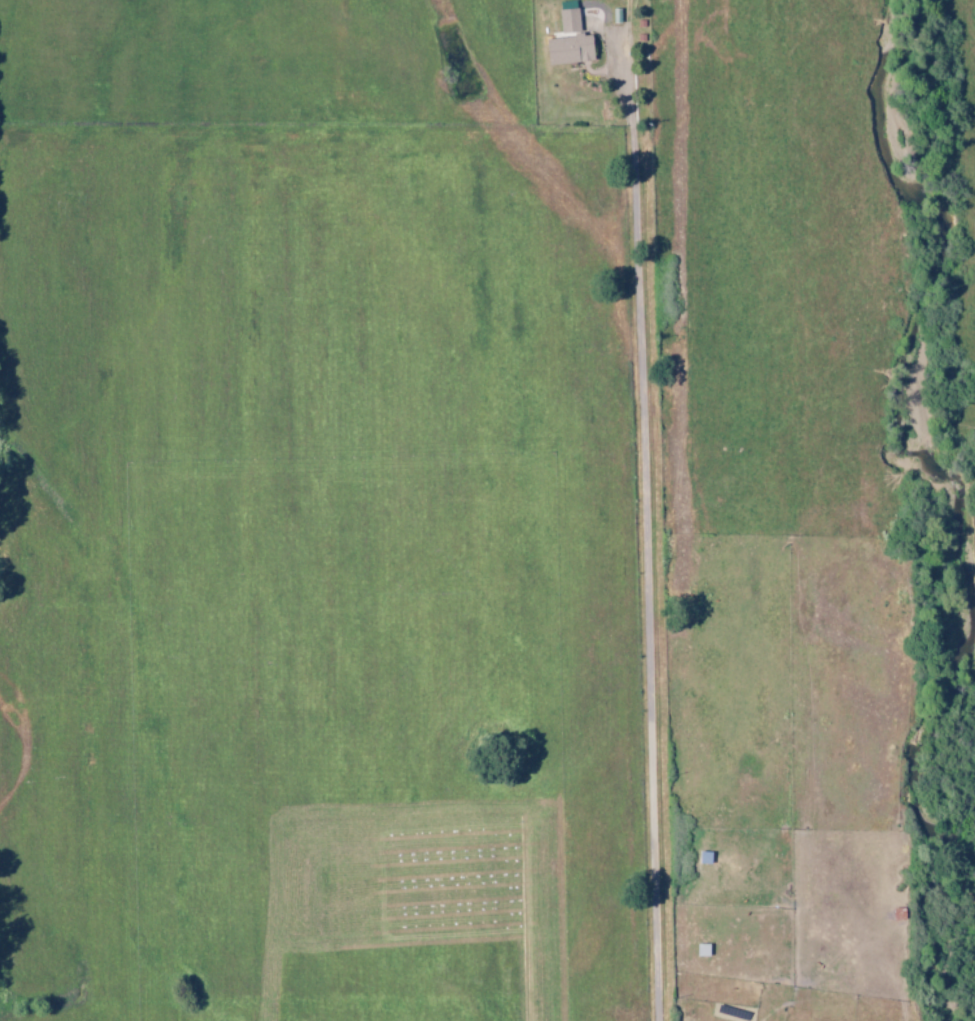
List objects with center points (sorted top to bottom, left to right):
building: (571, 41)

